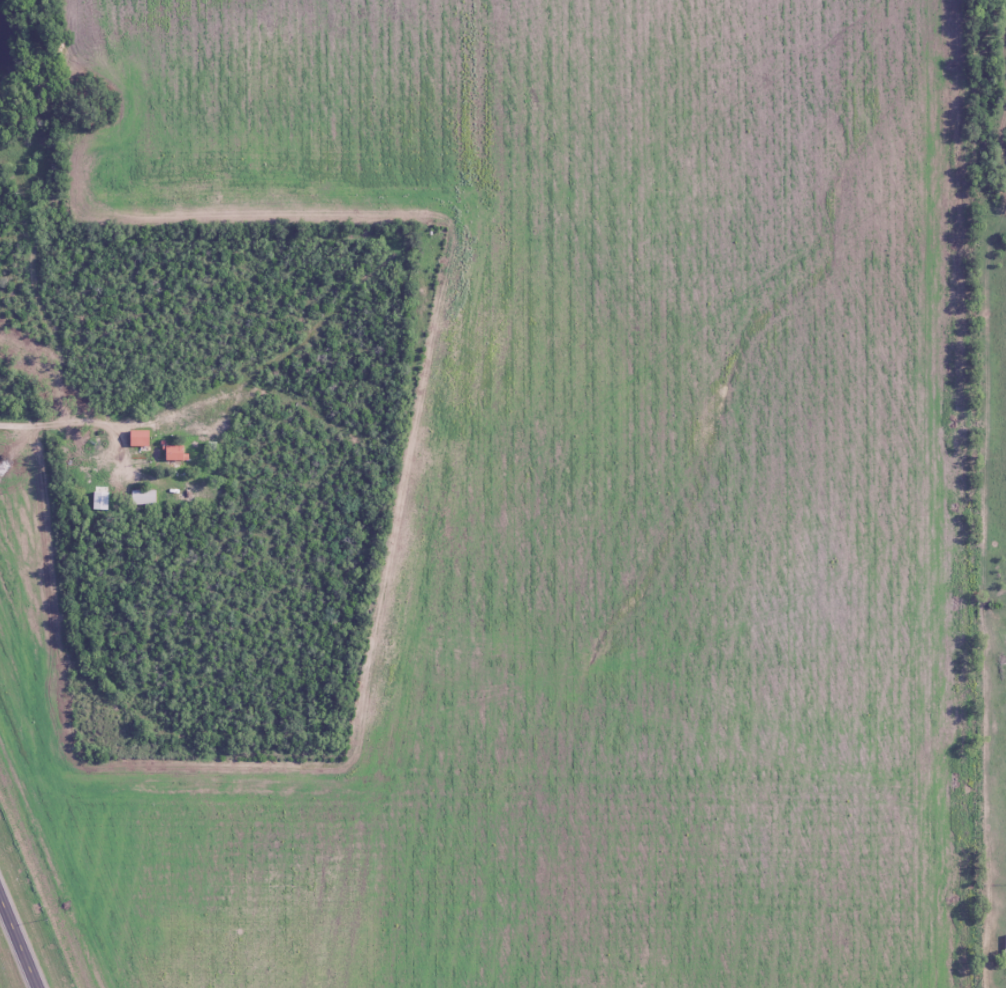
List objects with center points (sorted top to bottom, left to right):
road: (79, 422)
building: (136, 438)
building: (170, 452)
building: (142, 498)
road: (18, 943)

